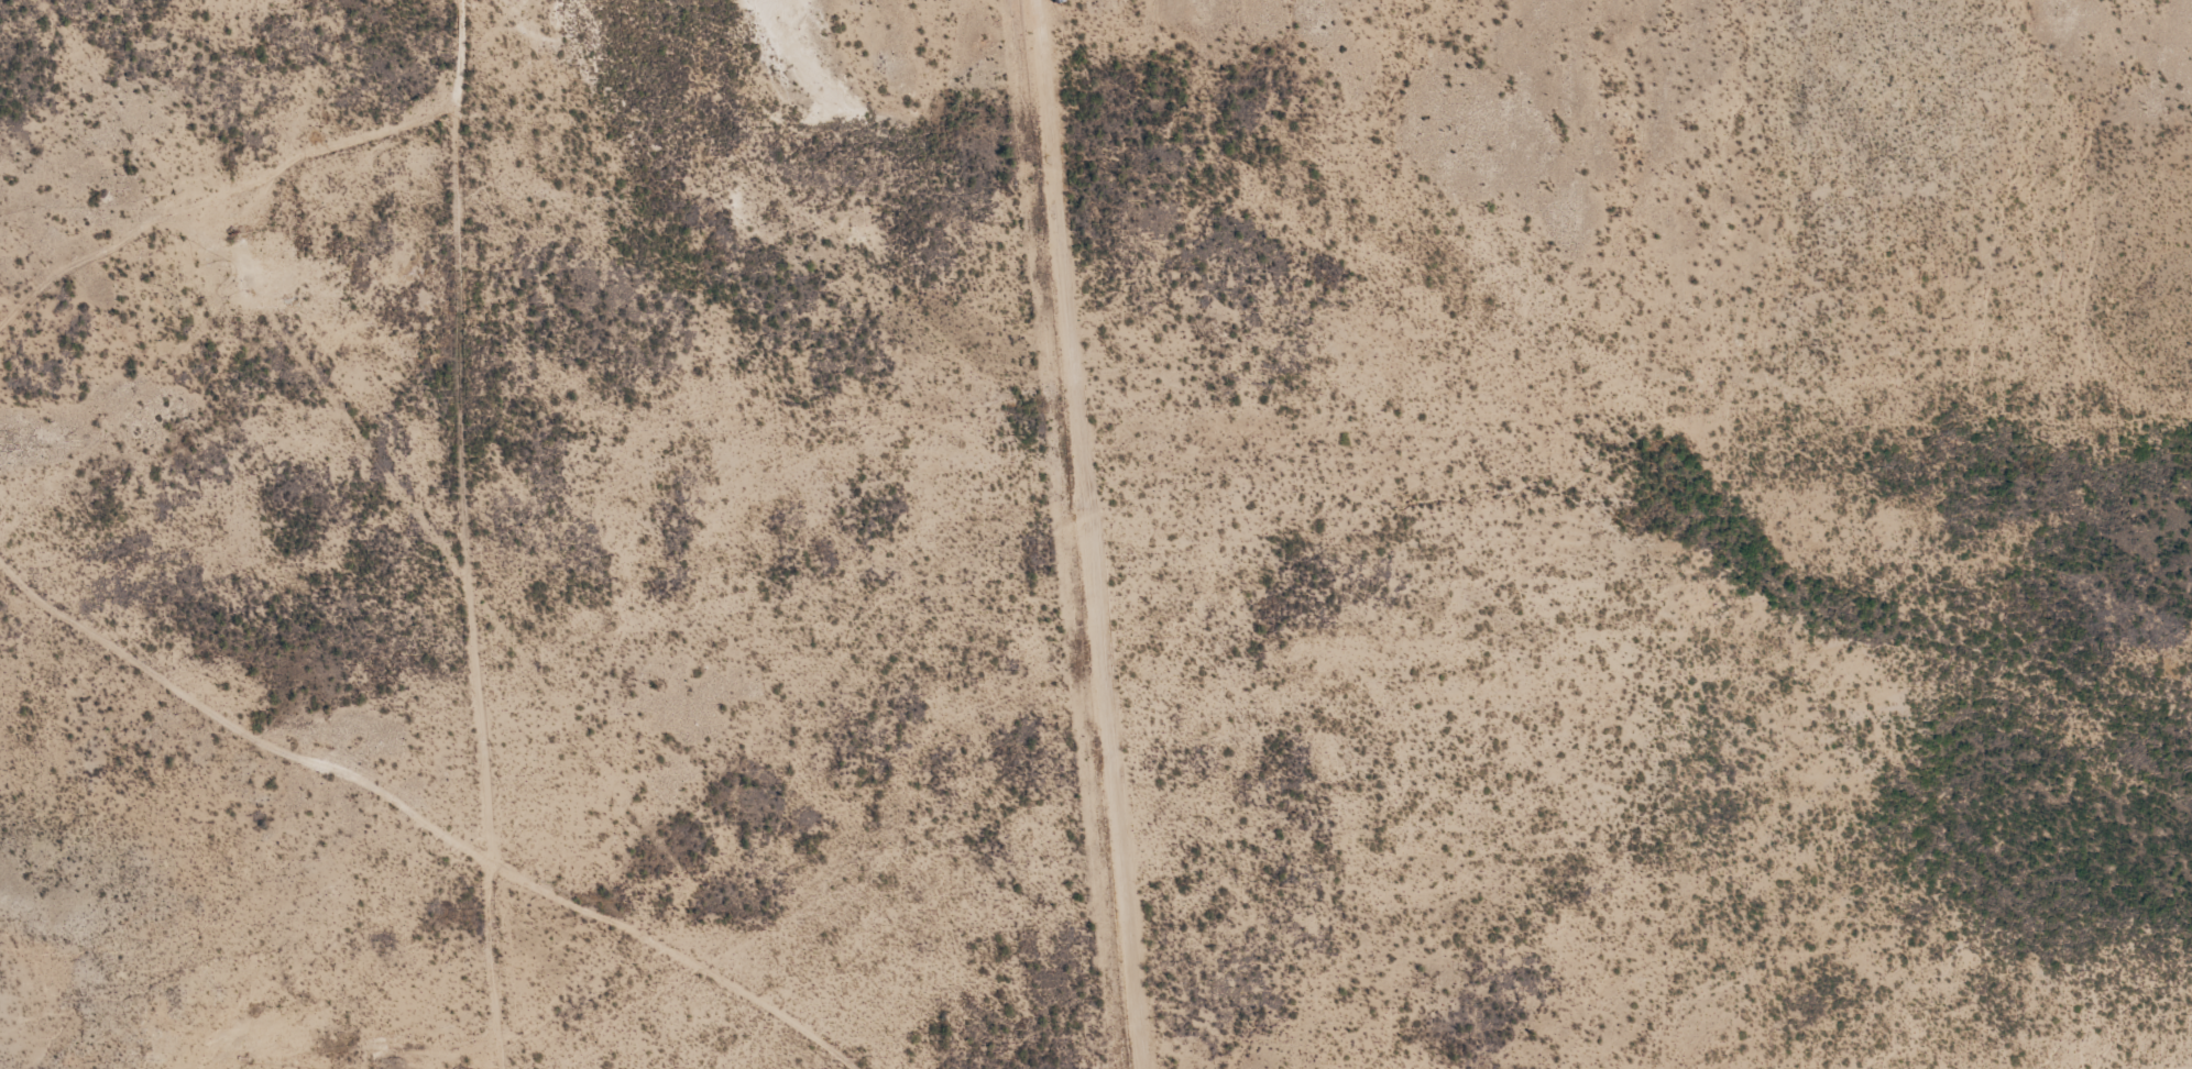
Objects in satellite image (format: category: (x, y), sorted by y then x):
road: (486, 534)
road: (374, 809)

